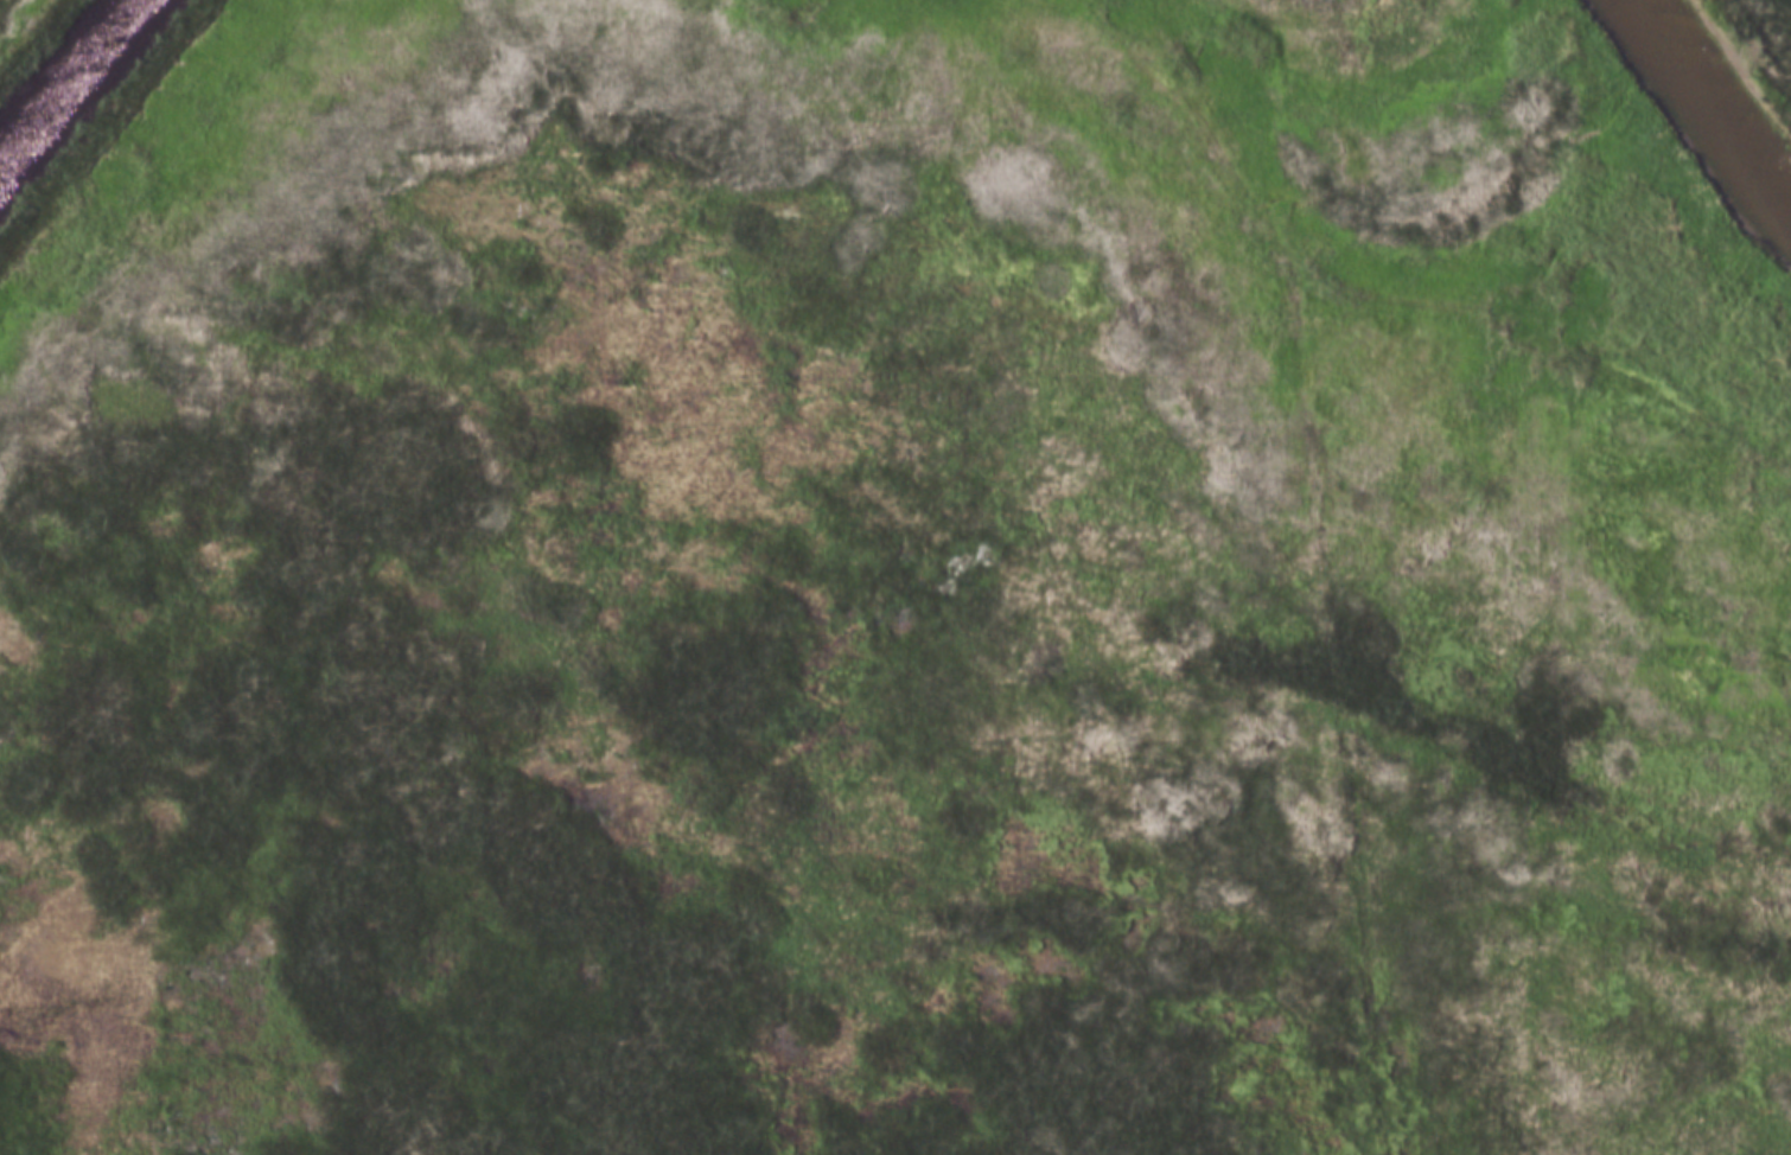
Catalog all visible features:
river: (1701, 102)

